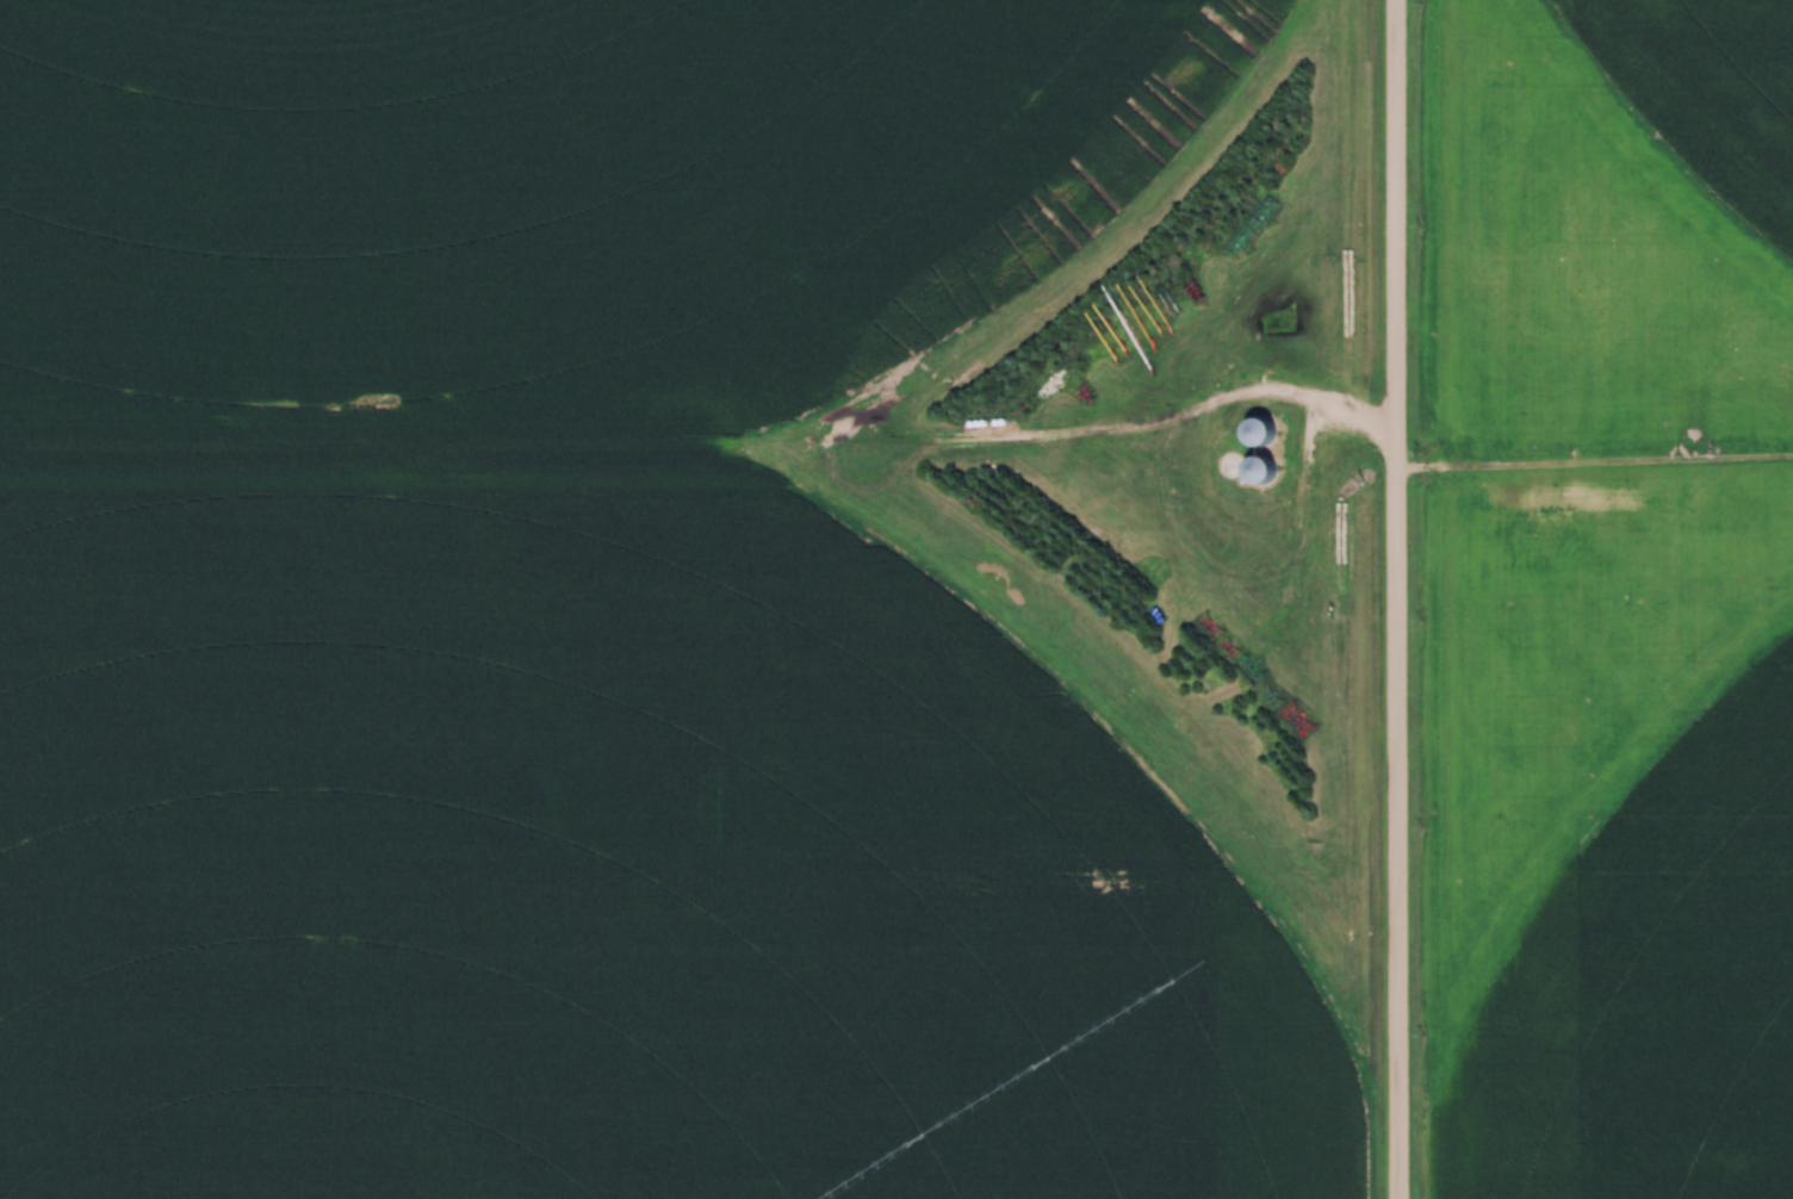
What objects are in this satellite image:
building: (1258, 434)
building: (1259, 473)
road: (1398, 599)

